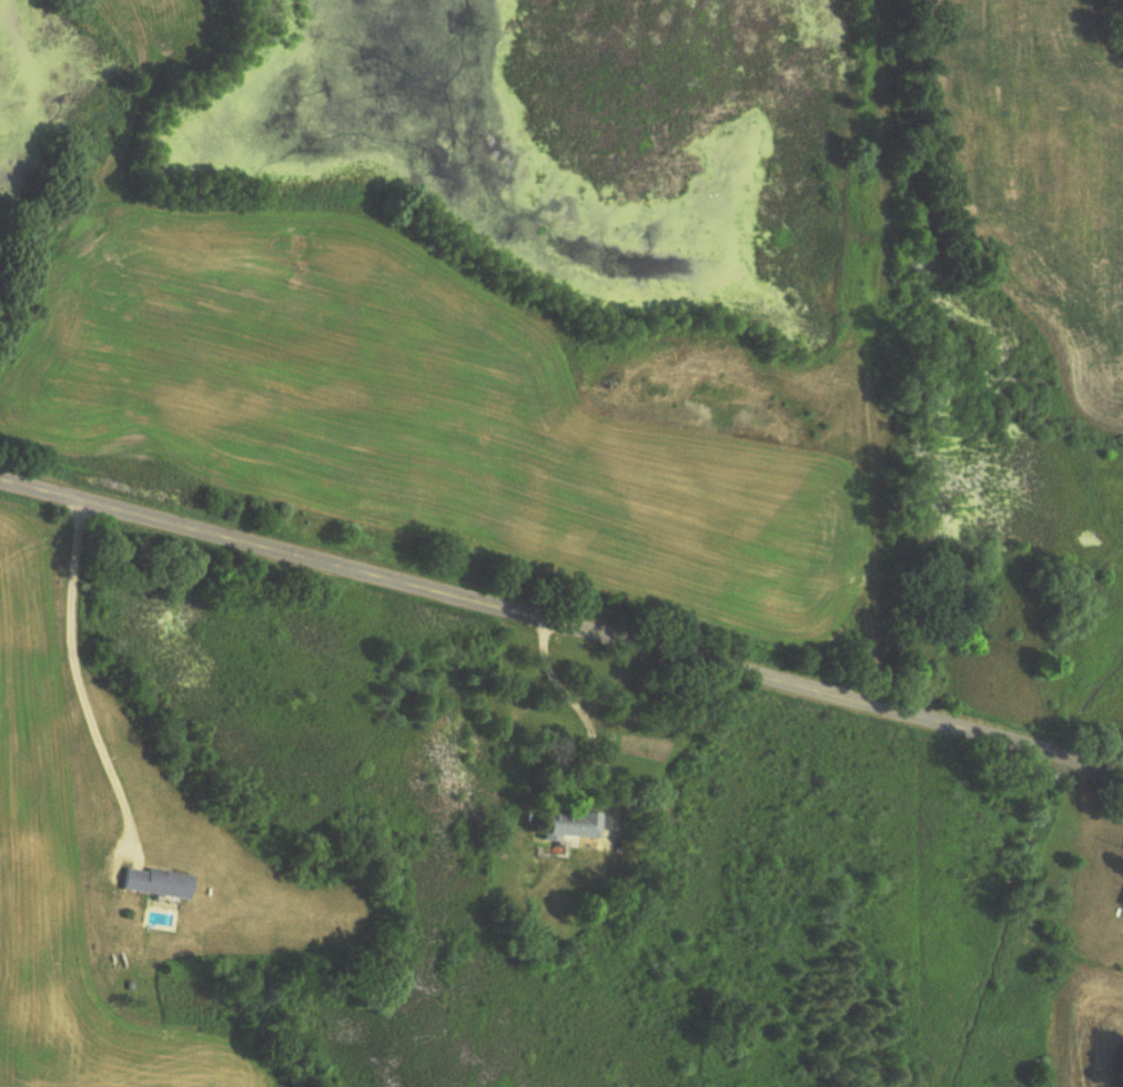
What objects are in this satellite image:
road: (564, 622)
road: (77, 677)
road: (585, 715)
building: (566, 824)
building: (152, 883)
building: (1121, 902)

